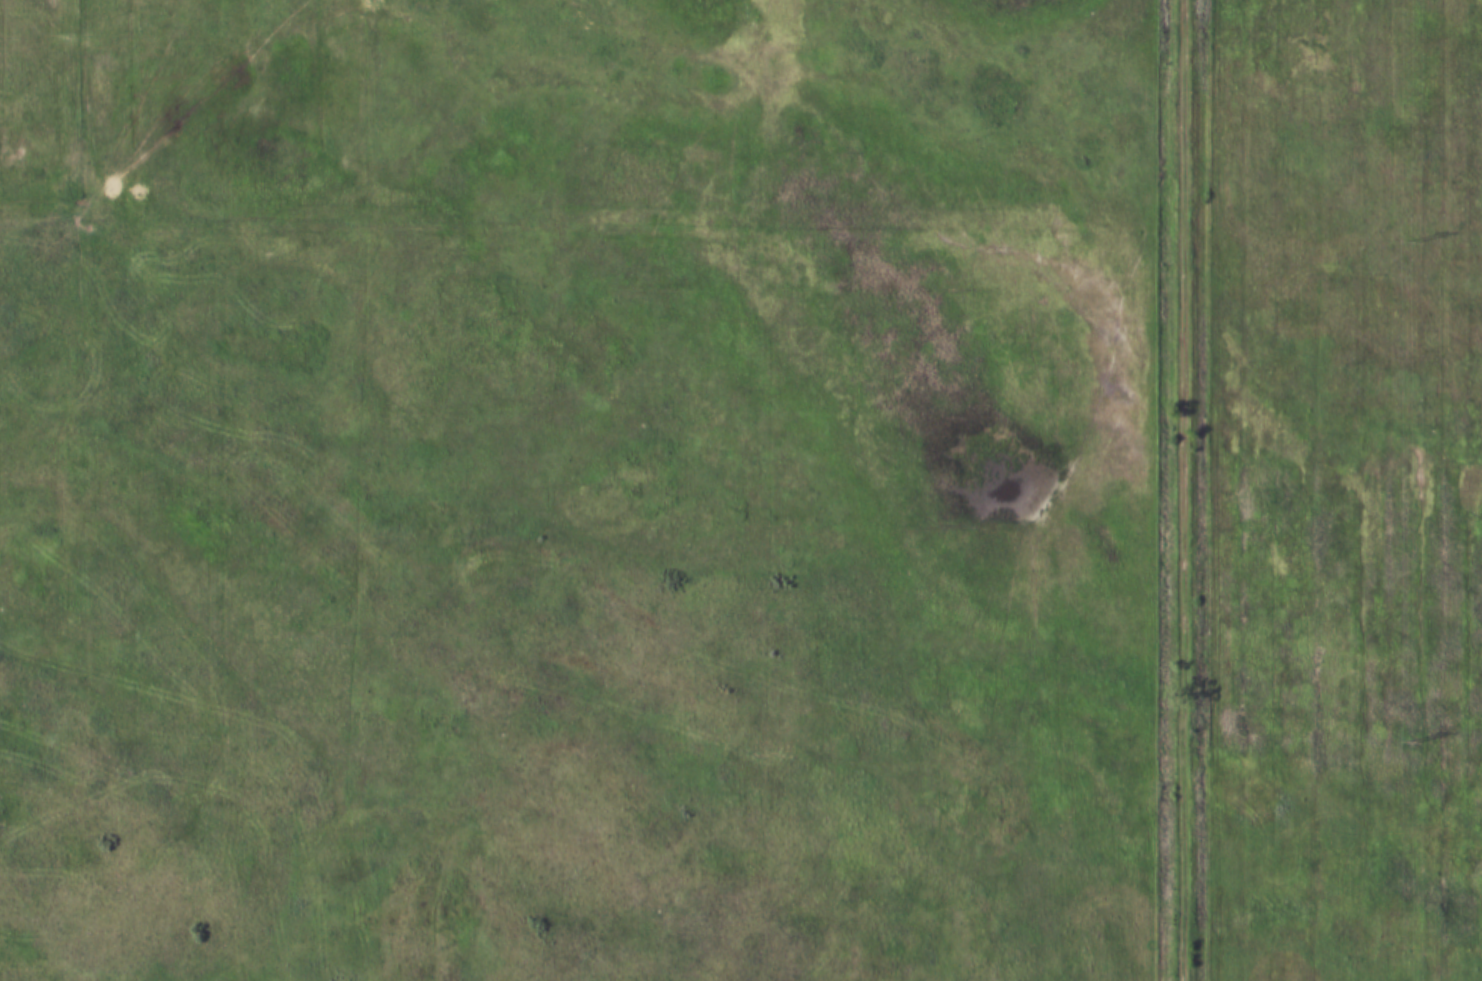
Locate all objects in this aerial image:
power tower: (1412, 241)
road: (1186, 490)
power tower: (1414, 741)

